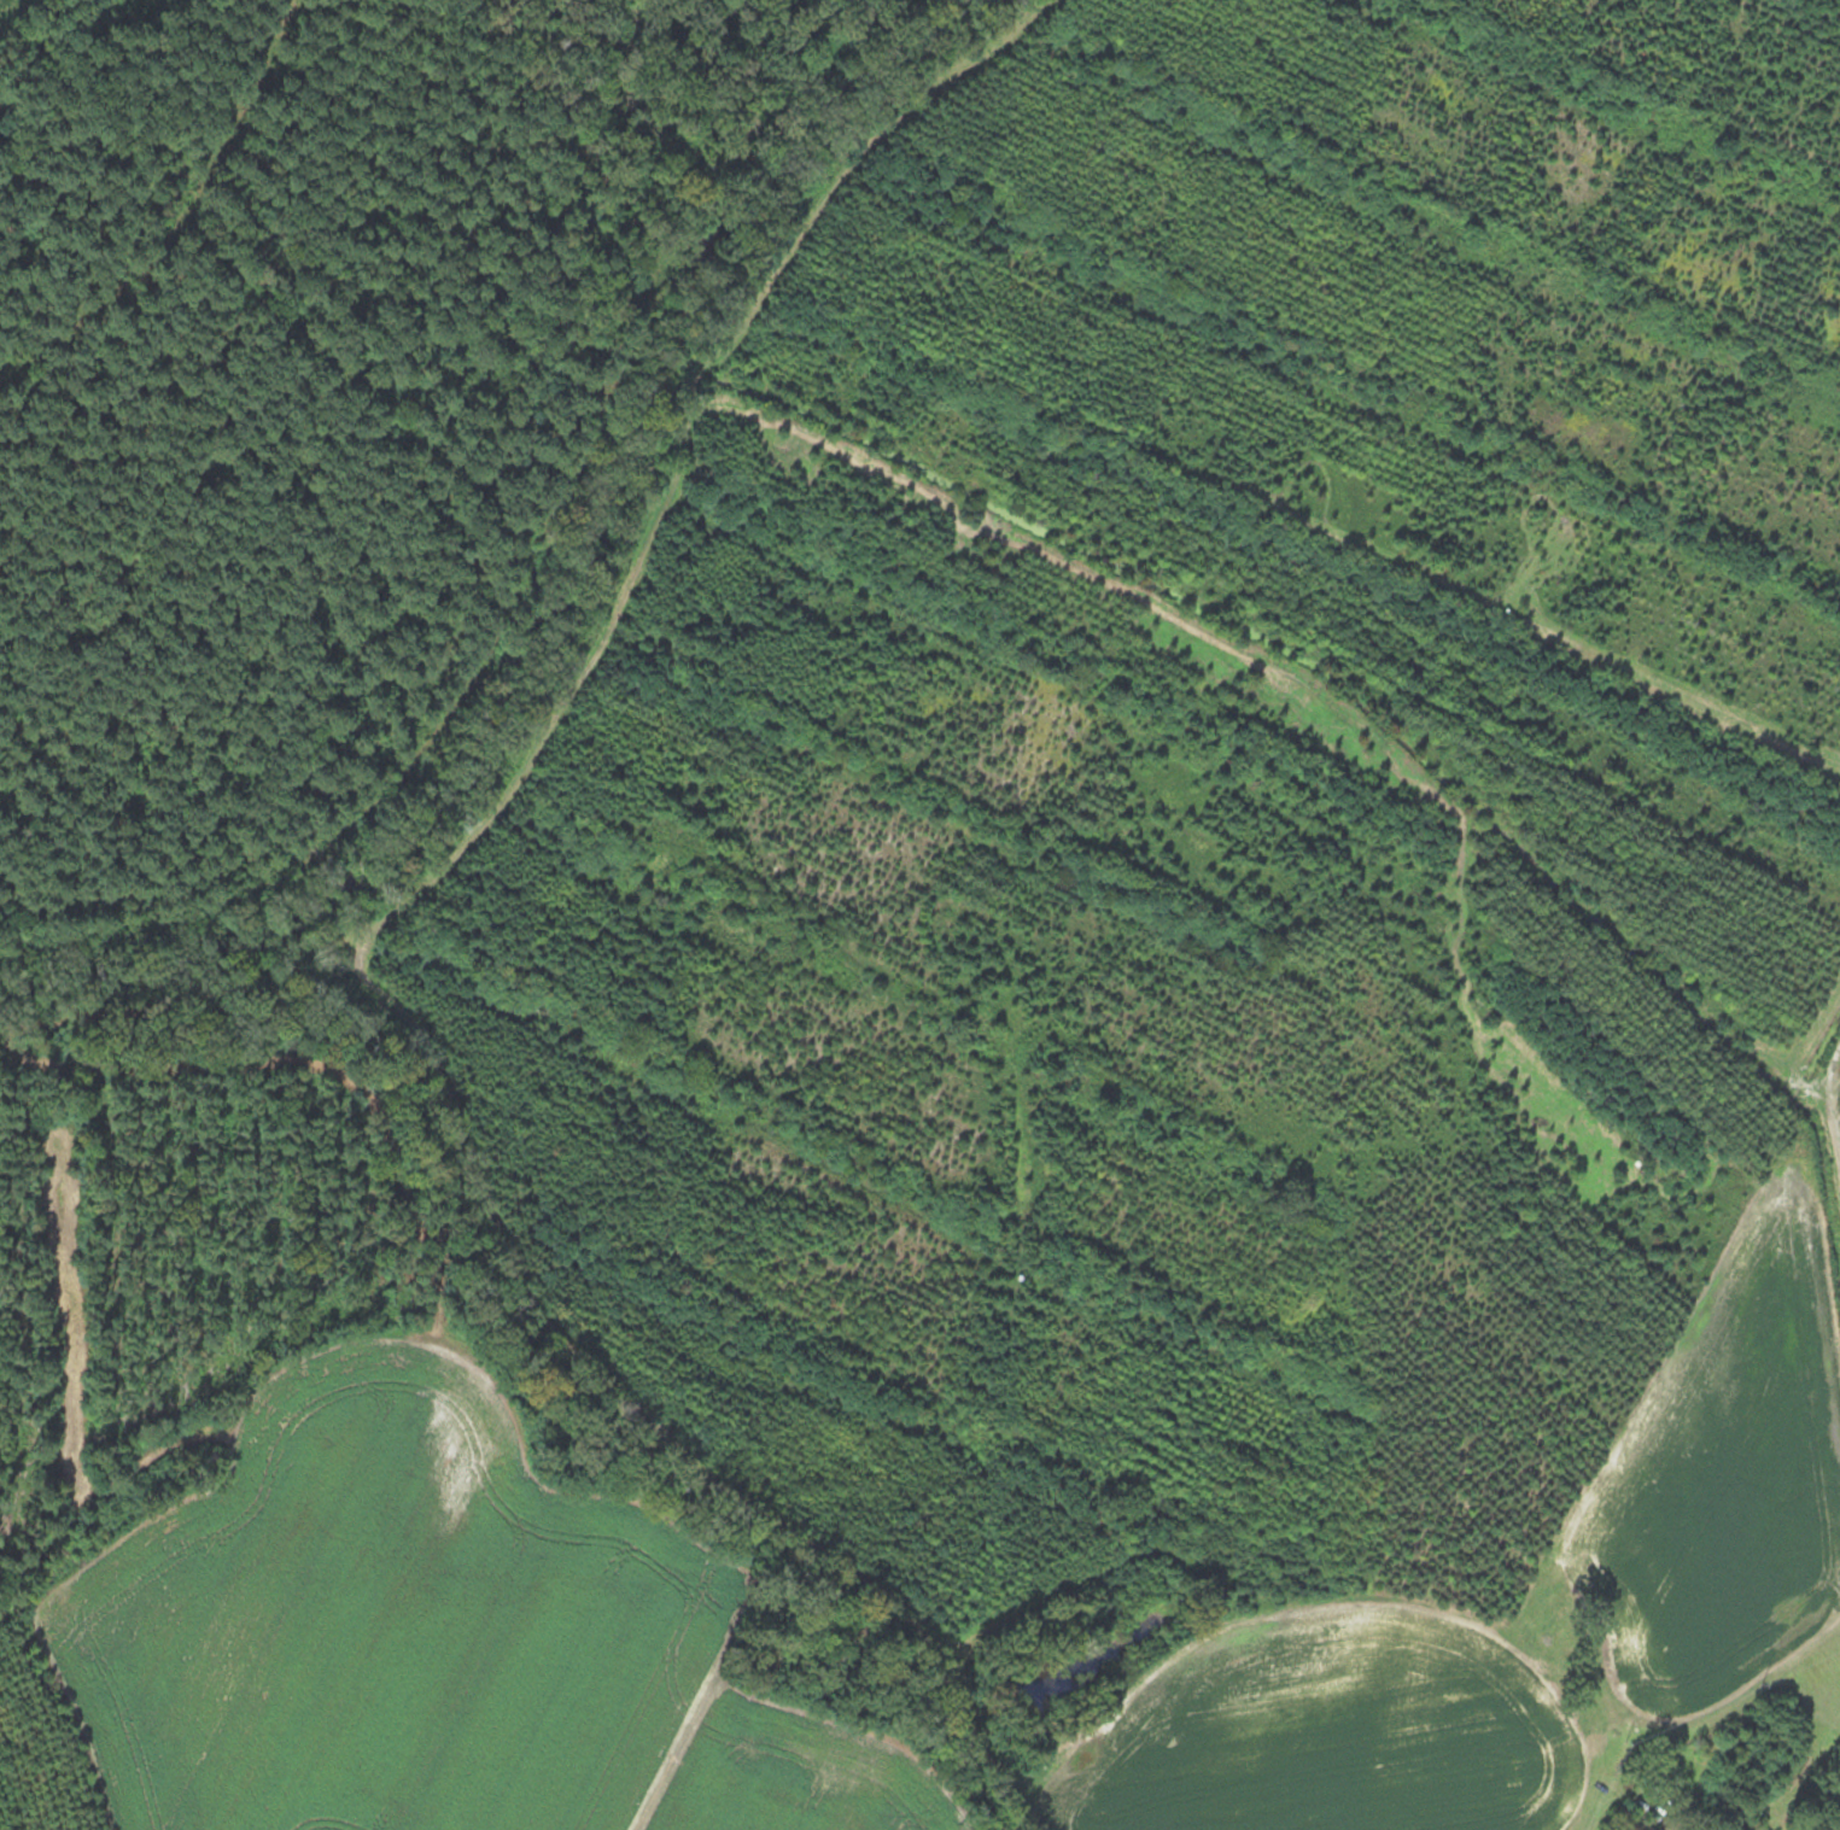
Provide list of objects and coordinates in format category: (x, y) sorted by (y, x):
building: (1680, 1829)

